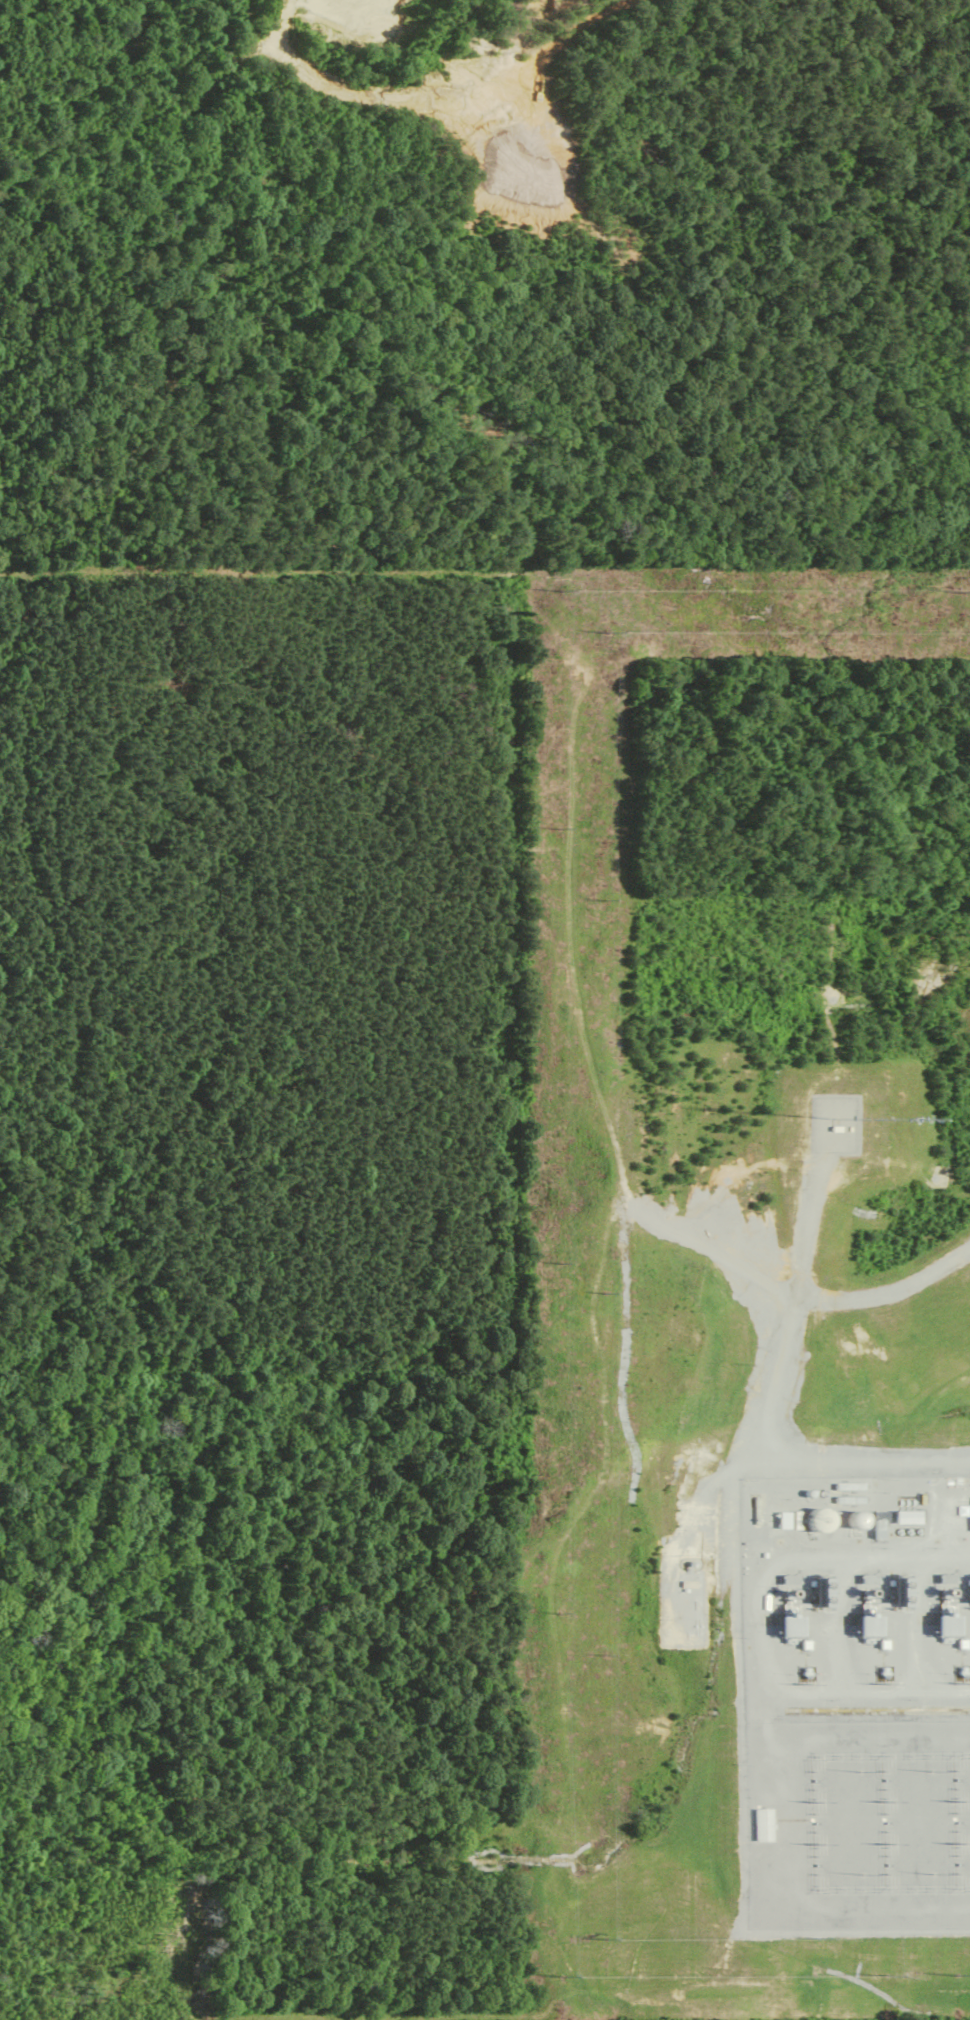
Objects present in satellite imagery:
building: (909, 1520)
building: (818, 1523)
building: (825, 1595)
chimney: (871, 1595)
chimney: (949, 1595)
chimney: (792, 1596)
building: (901, 1597)
power plant: (858, 1598)
building: (948, 1606)
building: (871, 1607)
building: (791, 1608)
power substation: (859, 1824)
building: (758, 1829)

